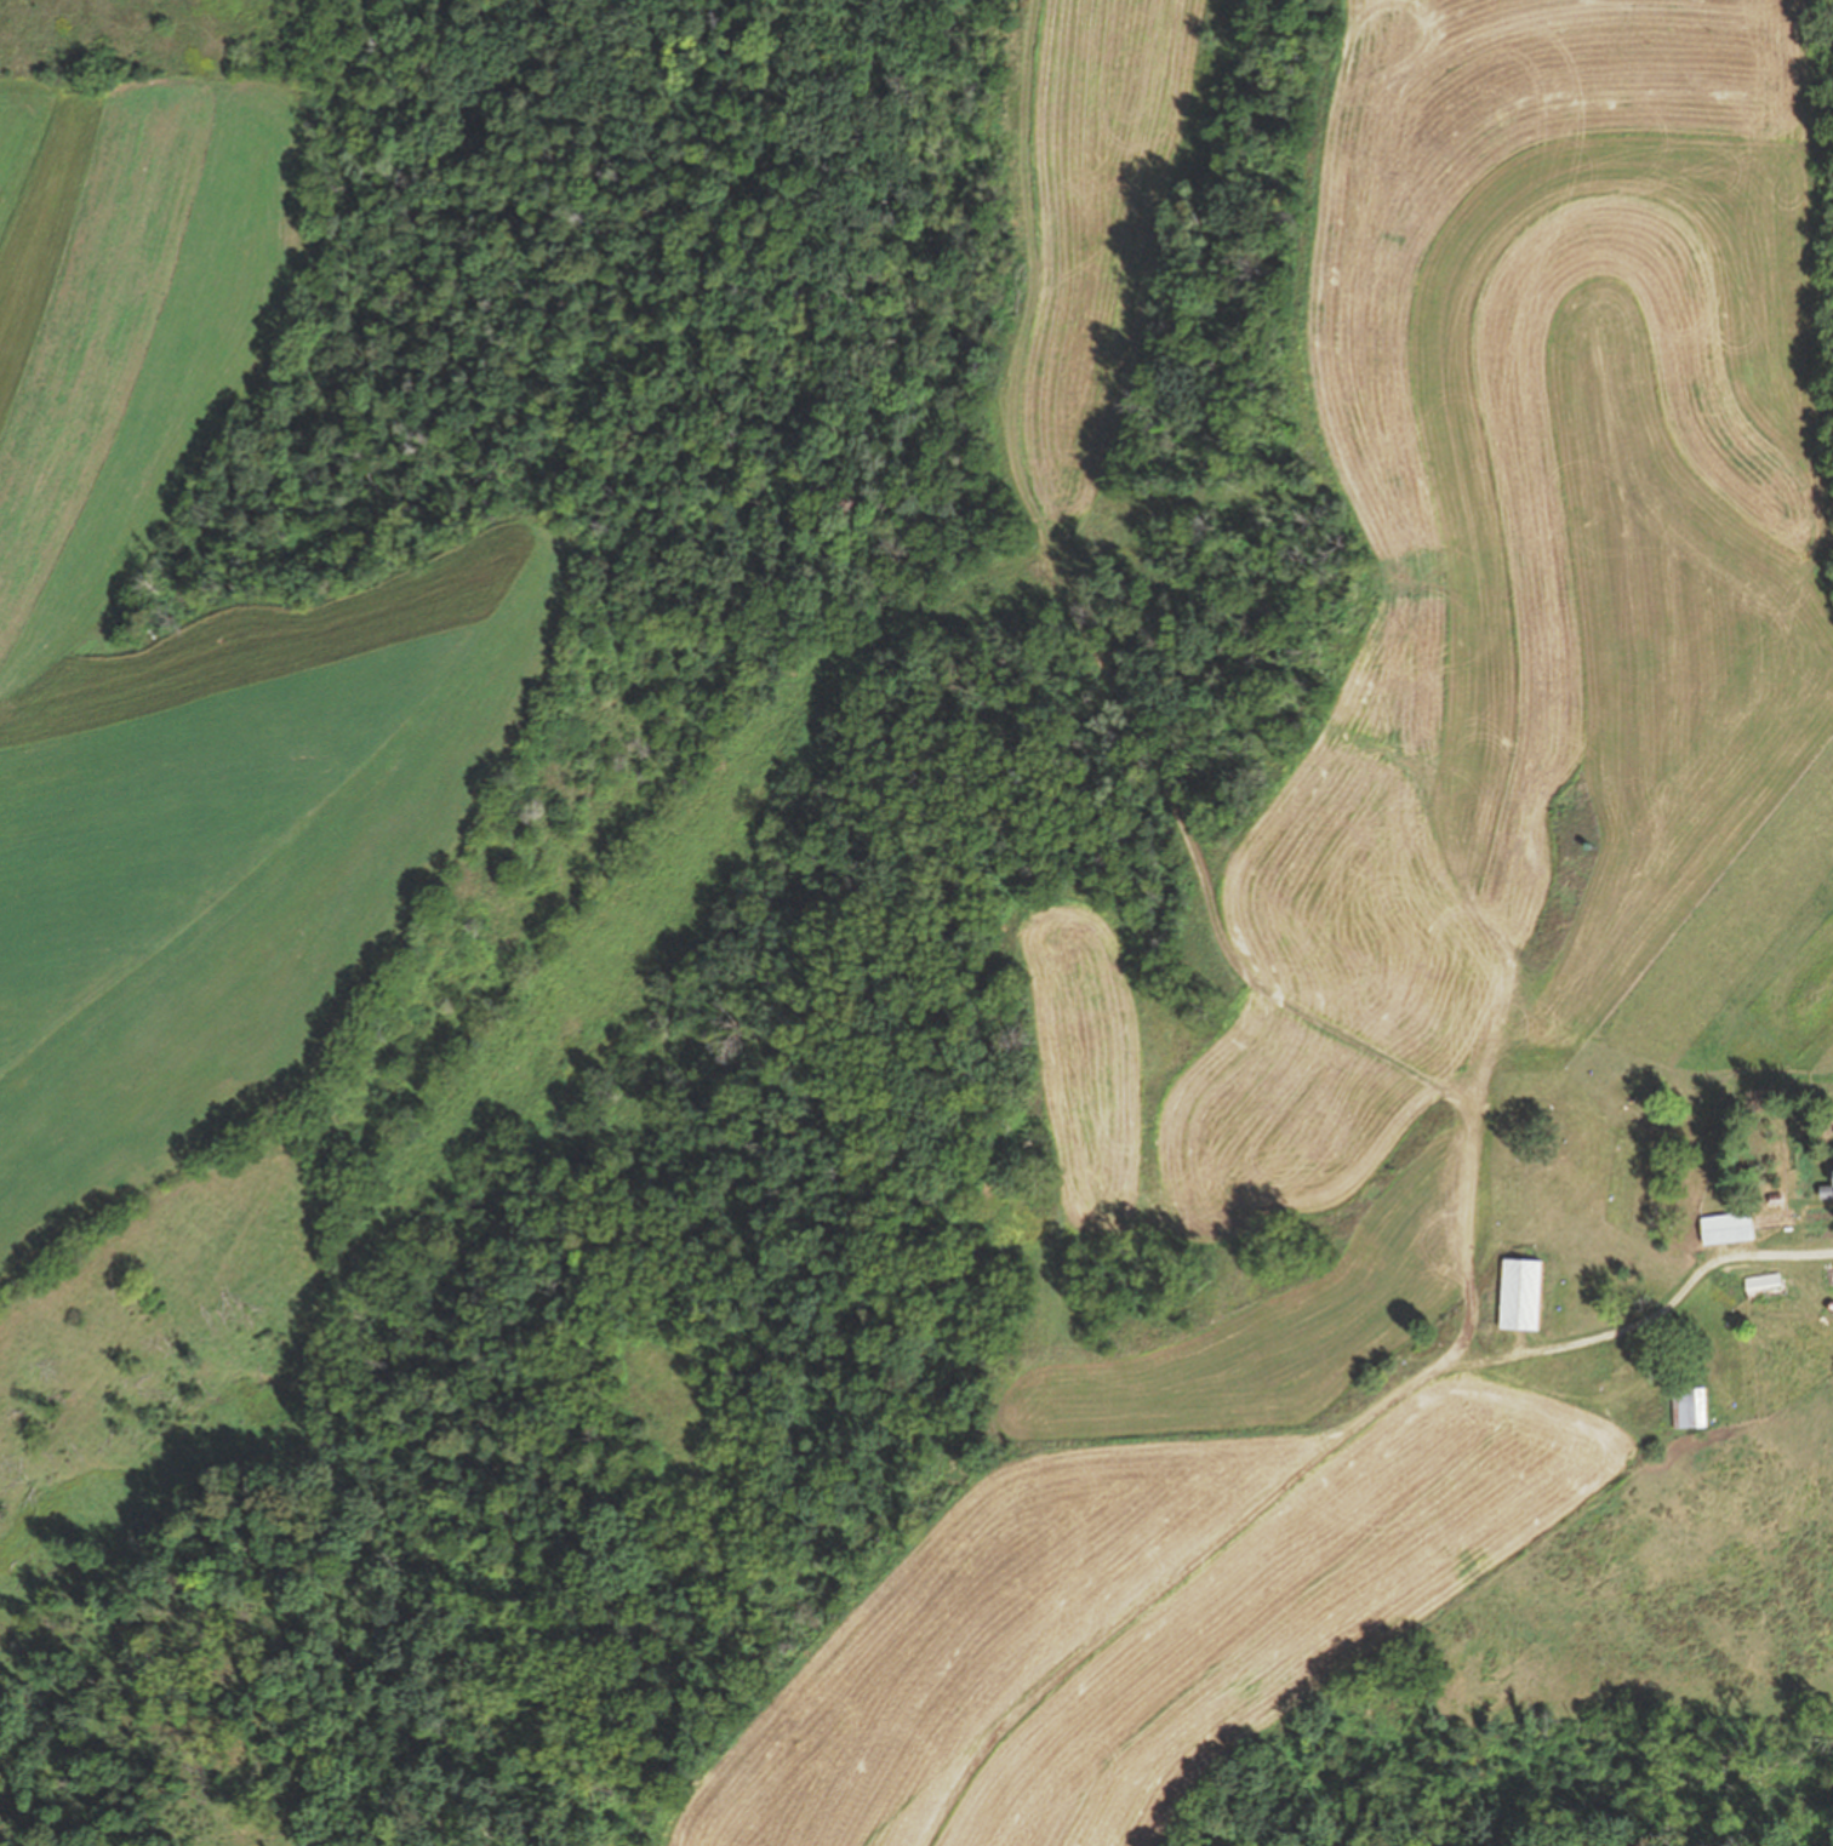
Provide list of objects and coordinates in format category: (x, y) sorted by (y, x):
road: (1095, 644)
road: (1490, 955)
building: (1826, 1190)
building: (1726, 1228)
building: (1829, 1273)
building: (1763, 1281)
building: (1519, 1295)
road: (1667, 1309)
building: (1689, 1407)
road: (1272, 1492)

